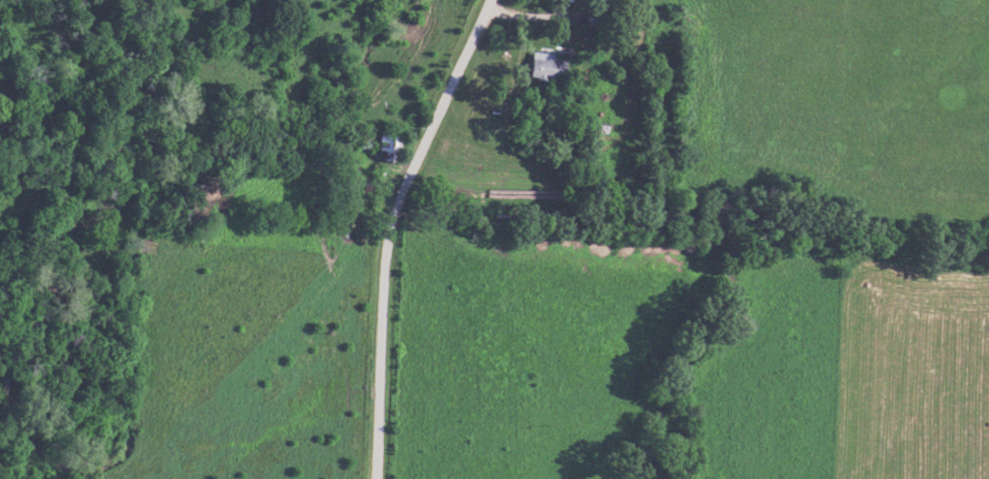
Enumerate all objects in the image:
building: (546, 67)
building: (364, 146)
building: (390, 148)
road: (392, 229)

